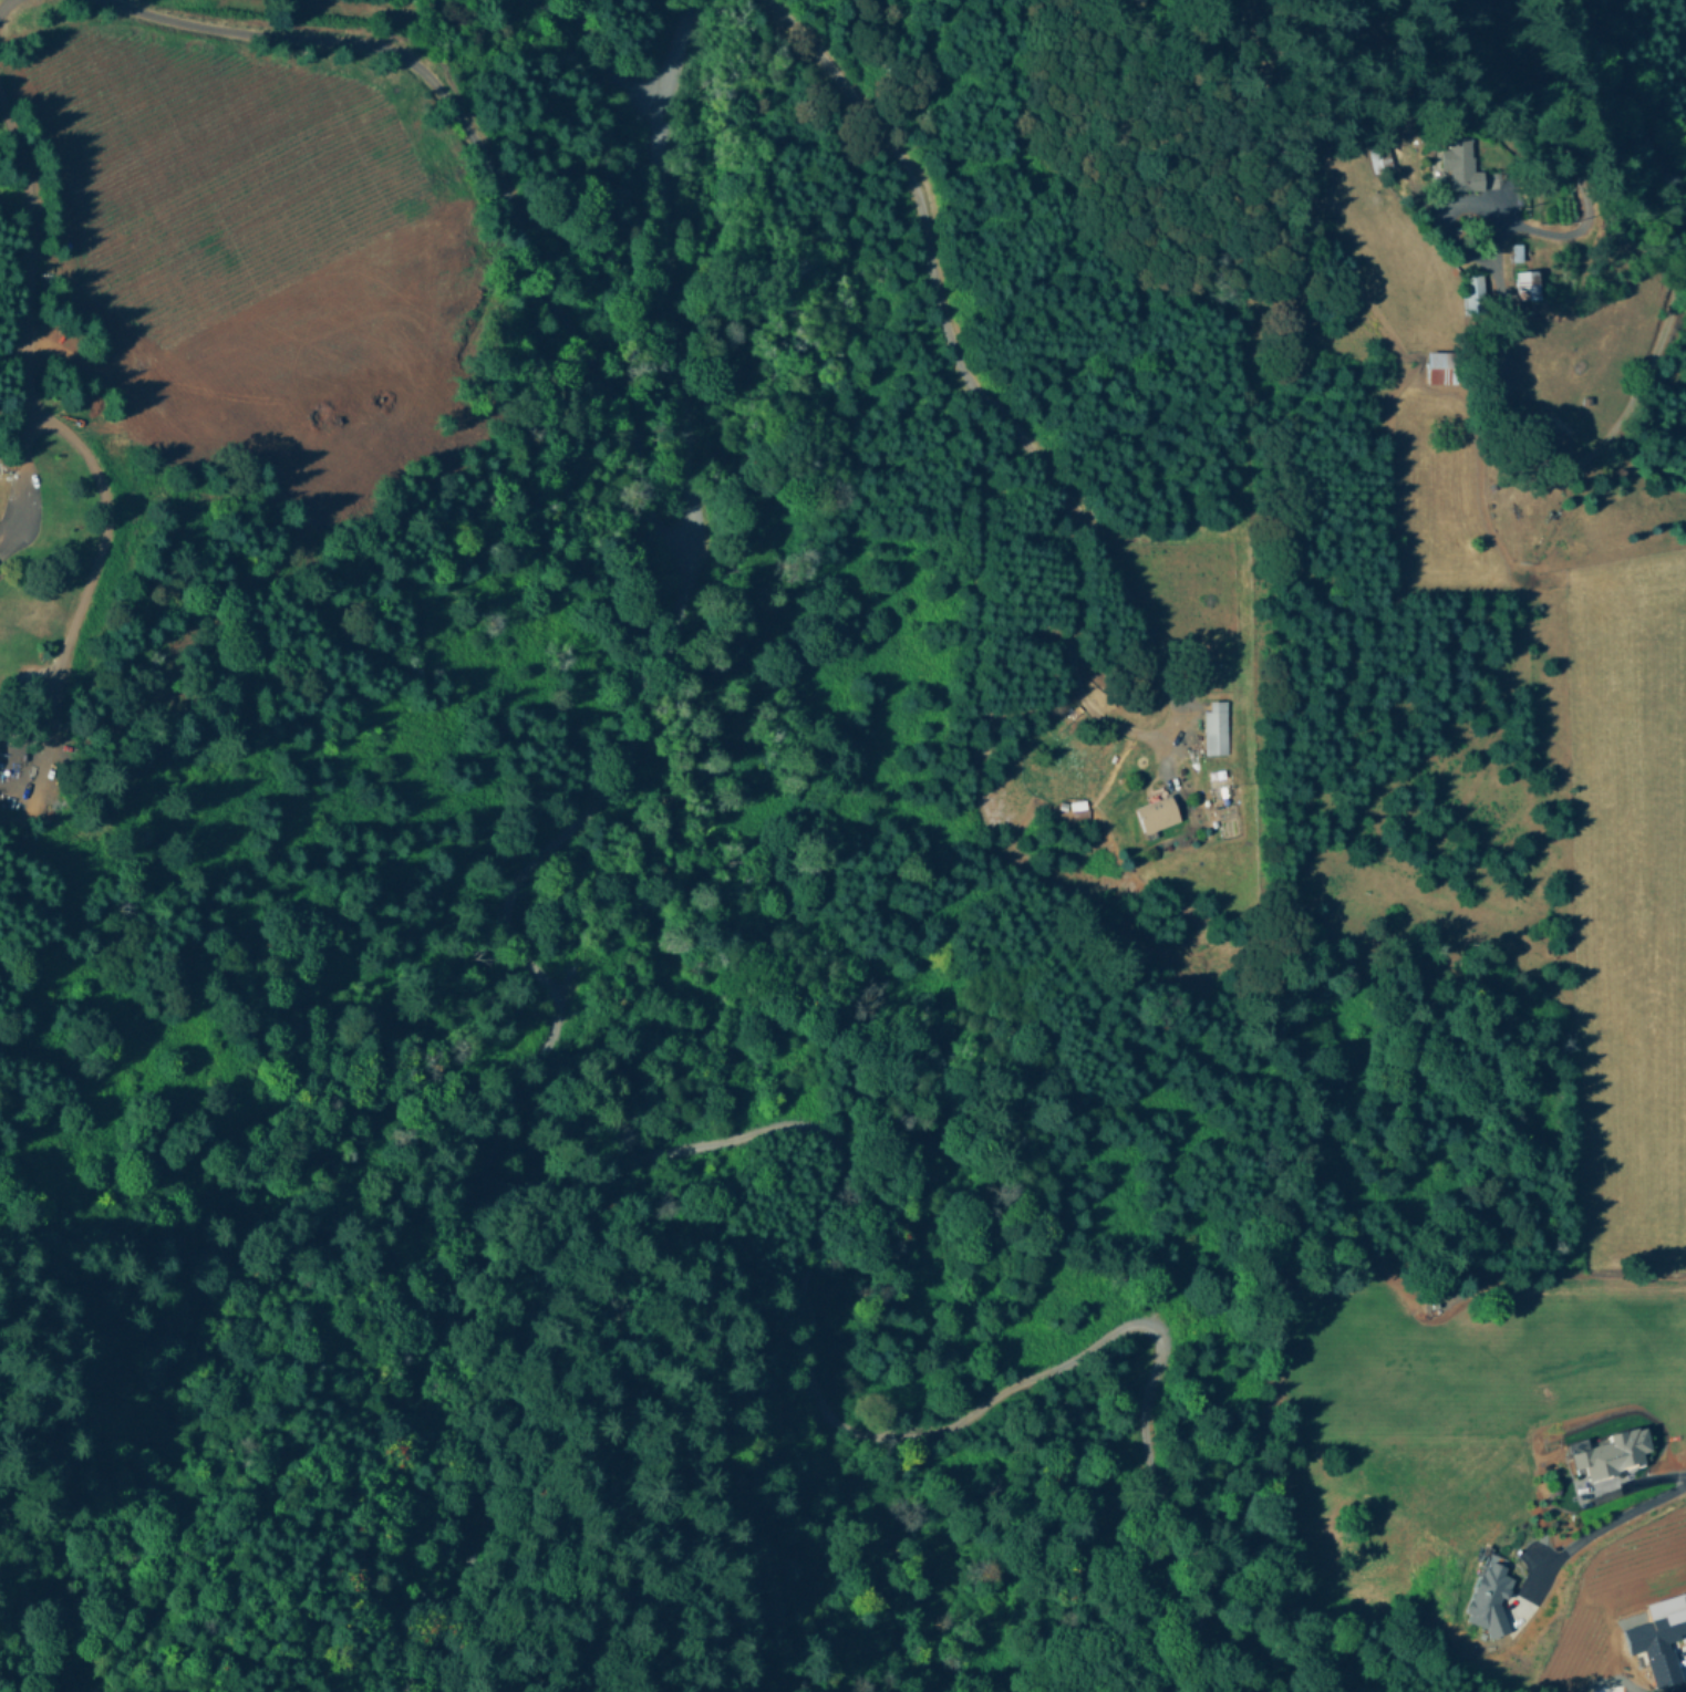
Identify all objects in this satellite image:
road: (3, 2)
road: (613, 64)
building: (1379, 157)
building: (1461, 163)
road: (490, 165)
road: (1680, 231)
road: (928, 237)
building: (1517, 251)
road: (673, 269)
building: (1527, 283)
building: (1473, 290)
road: (24, 318)
building: (1217, 726)
road: (1155, 737)
building: (1156, 812)
road: (832, 1183)
building: (1611, 1450)
road: (1621, 1515)
building: (1490, 1594)
building: (1659, 1636)

